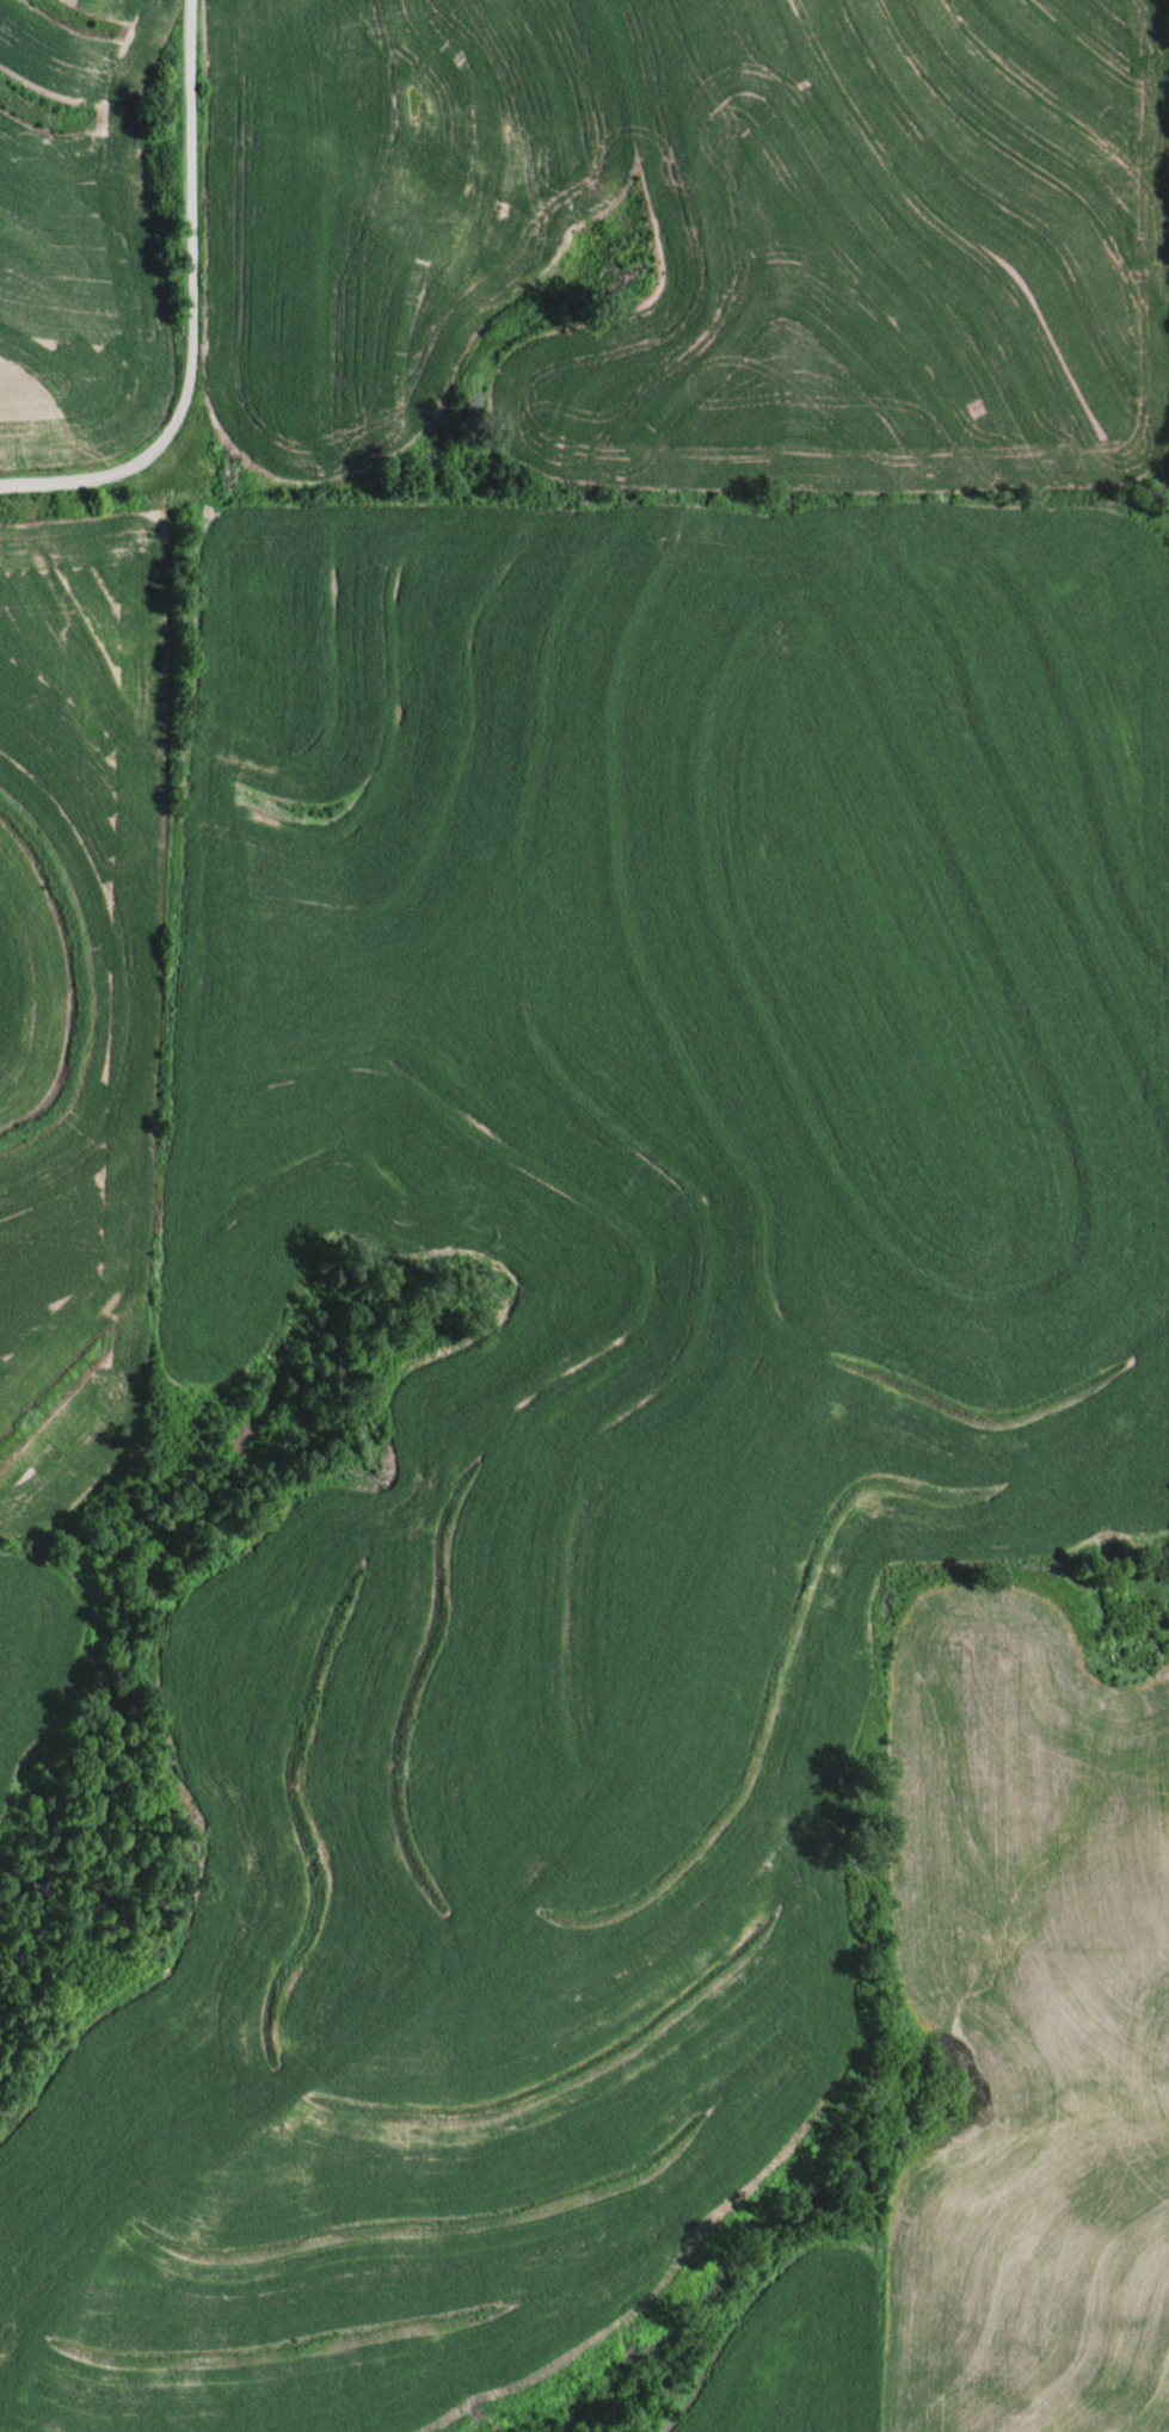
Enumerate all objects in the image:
road: (187, 308)

